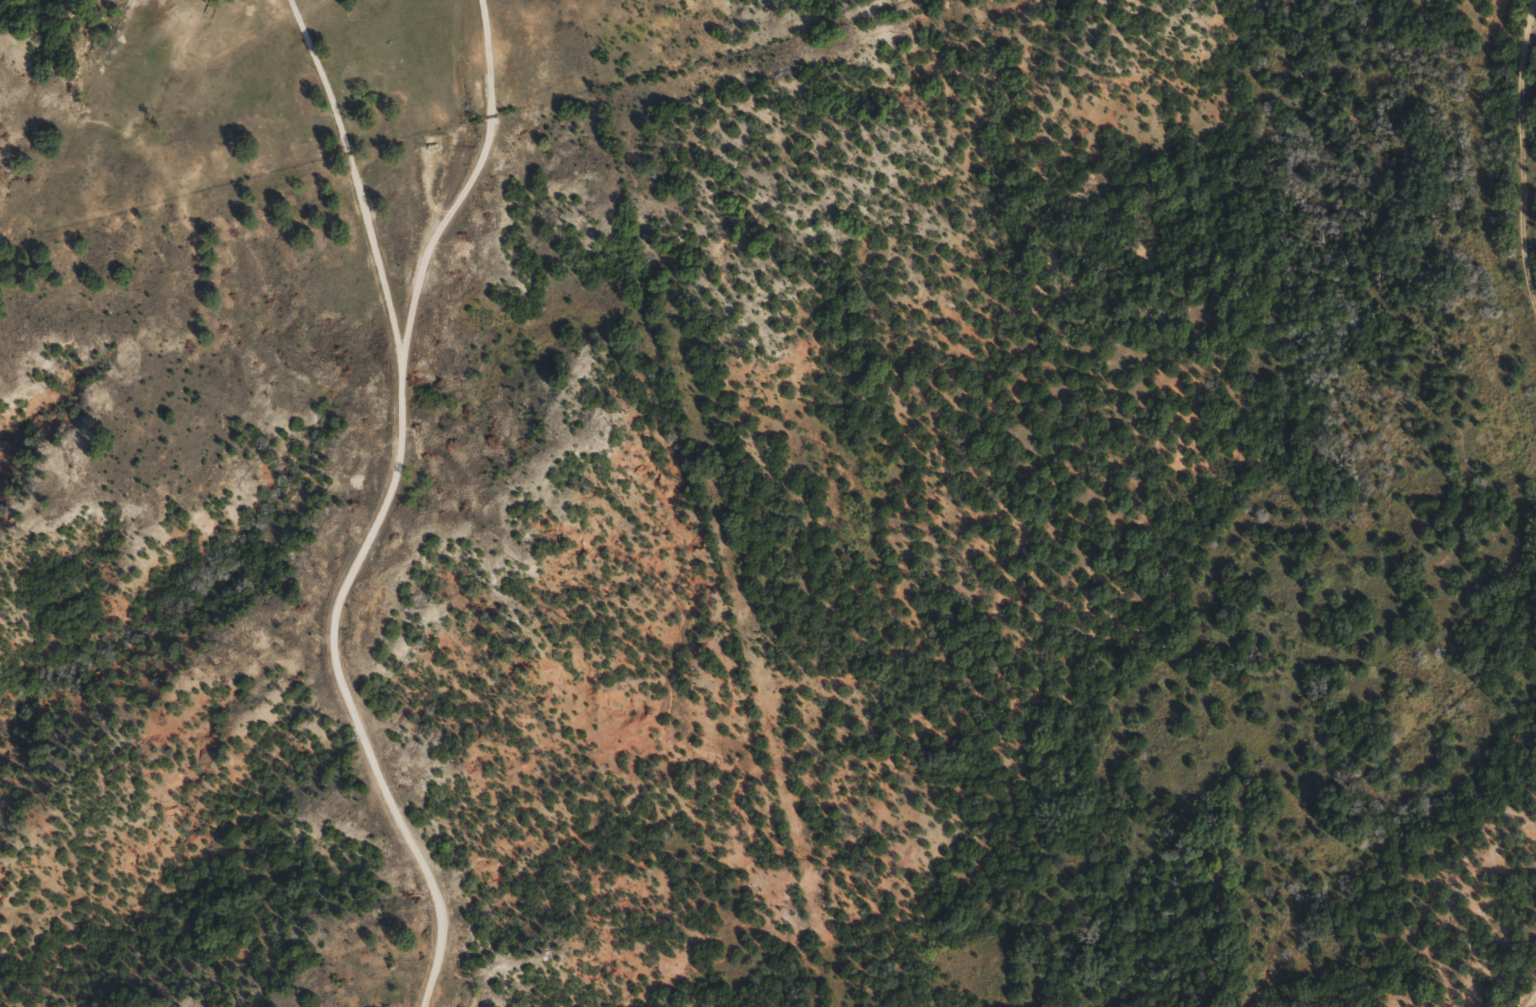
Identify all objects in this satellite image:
road: (355, 176)
road: (470, 184)
road: (344, 686)

